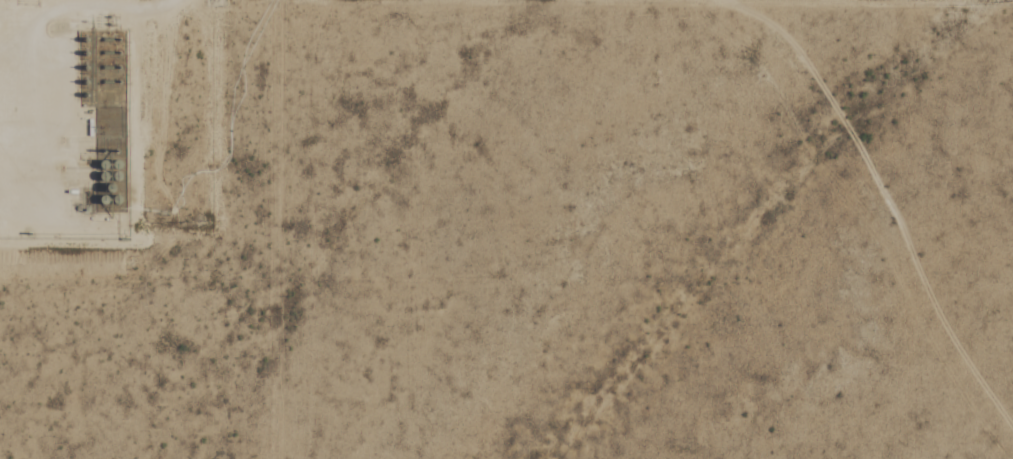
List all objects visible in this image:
road: (70, 7)

